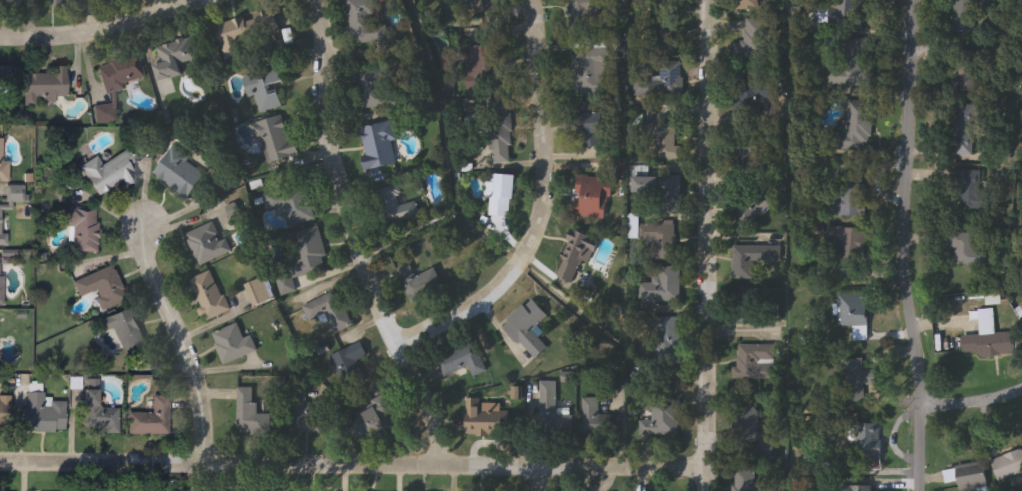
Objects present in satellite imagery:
building: (651, 0)
building: (12, 4)
building: (63, 4)
building: (483, 6)
building: (748, 6)
building: (587, 9)
building: (842, 14)
building: (971, 15)
building: (364, 22)
road: (100, 30)
building: (252, 38)
building: (754, 41)
building: (175, 58)
building: (483, 65)
building: (855, 67)
building: (591, 68)
building: (971, 71)
building: (122, 74)
building: (663, 82)
building: (45, 87)
building: (3, 88)
building: (371, 90)
building: (267, 92)
building: (751, 99)
building: (592, 124)
building: (855, 126)
building: (967, 129)
building: (274, 140)
building: (664, 141)
building: (500, 145)
building: (378, 146)
building: (746, 156)
building: (1, 160)
building: (109, 172)
building: (179, 174)
building: (971, 189)
building: (501, 194)
building: (670, 194)
building: (851, 194)
building: (592, 198)
building: (290, 203)
road: (543, 206)
building: (751, 206)
building: (392, 208)
building: (1, 223)
building: (85, 230)
building: (659, 237)
road: (355, 241)
building: (207, 243)
building: (849, 243)
road: (706, 245)
road: (903, 246)
building: (969, 248)
building: (574, 256)
building: (752, 258)
building: (304, 259)
building: (1, 283)
building: (416, 283)
building: (661, 286)
building: (101, 287)
building: (208, 295)
building: (1021, 305)
building: (750, 306)
building: (854, 312)
building: (334, 316)
building: (526, 328)
building: (126, 332)
building: (667, 338)
building: (989, 341)
road: (182, 343)
building: (233, 344)
building: (462, 361)
building: (756, 362)
building: (350, 365)
building: (855, 378)
road: (972, 400)
building: (548, 405)
building: (5, 414)
building: (43, 414)
building: (251, 414)
building: (99, 415)
building: (485, 417)
building: (306, 418)
building: (152, 419)
building: (661, 419)
building: (373, 420)
building: (598, 420)
building: (750, 431)
building: (870, 439)
building: (1008, 464)
road: (354, 468)
road: (539, 480)
building: (968, 480)
building: (746, 481)
building: (861, 488)

